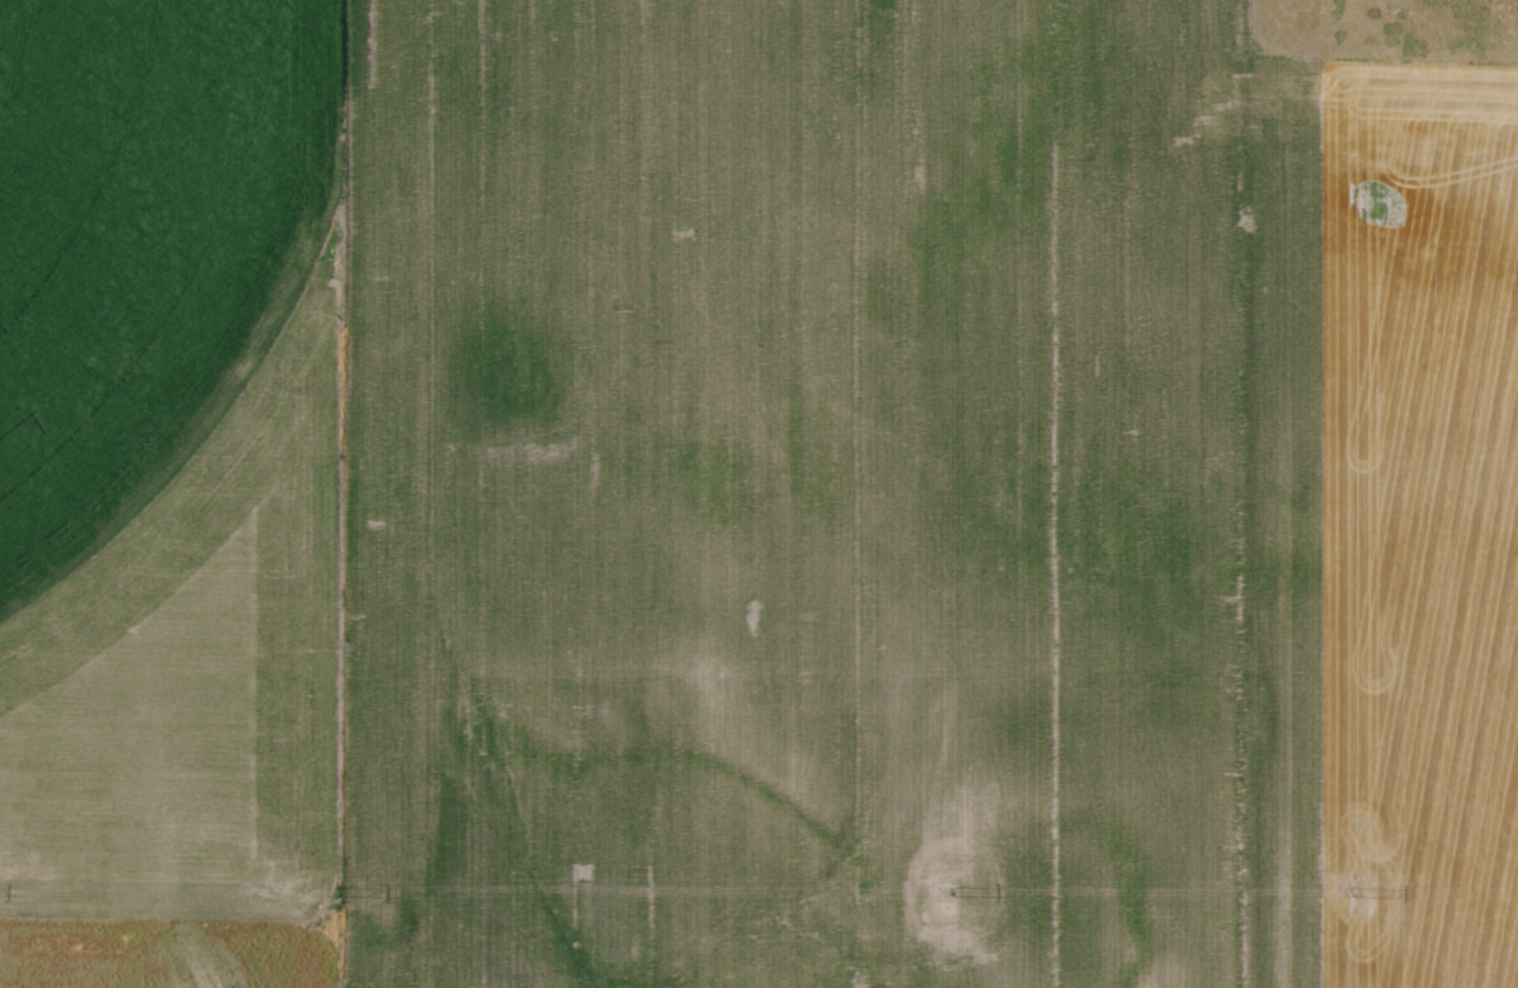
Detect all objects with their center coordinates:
power tower: (1350, 890)
power tower: (950, 891)
power tower: (336, 893)

